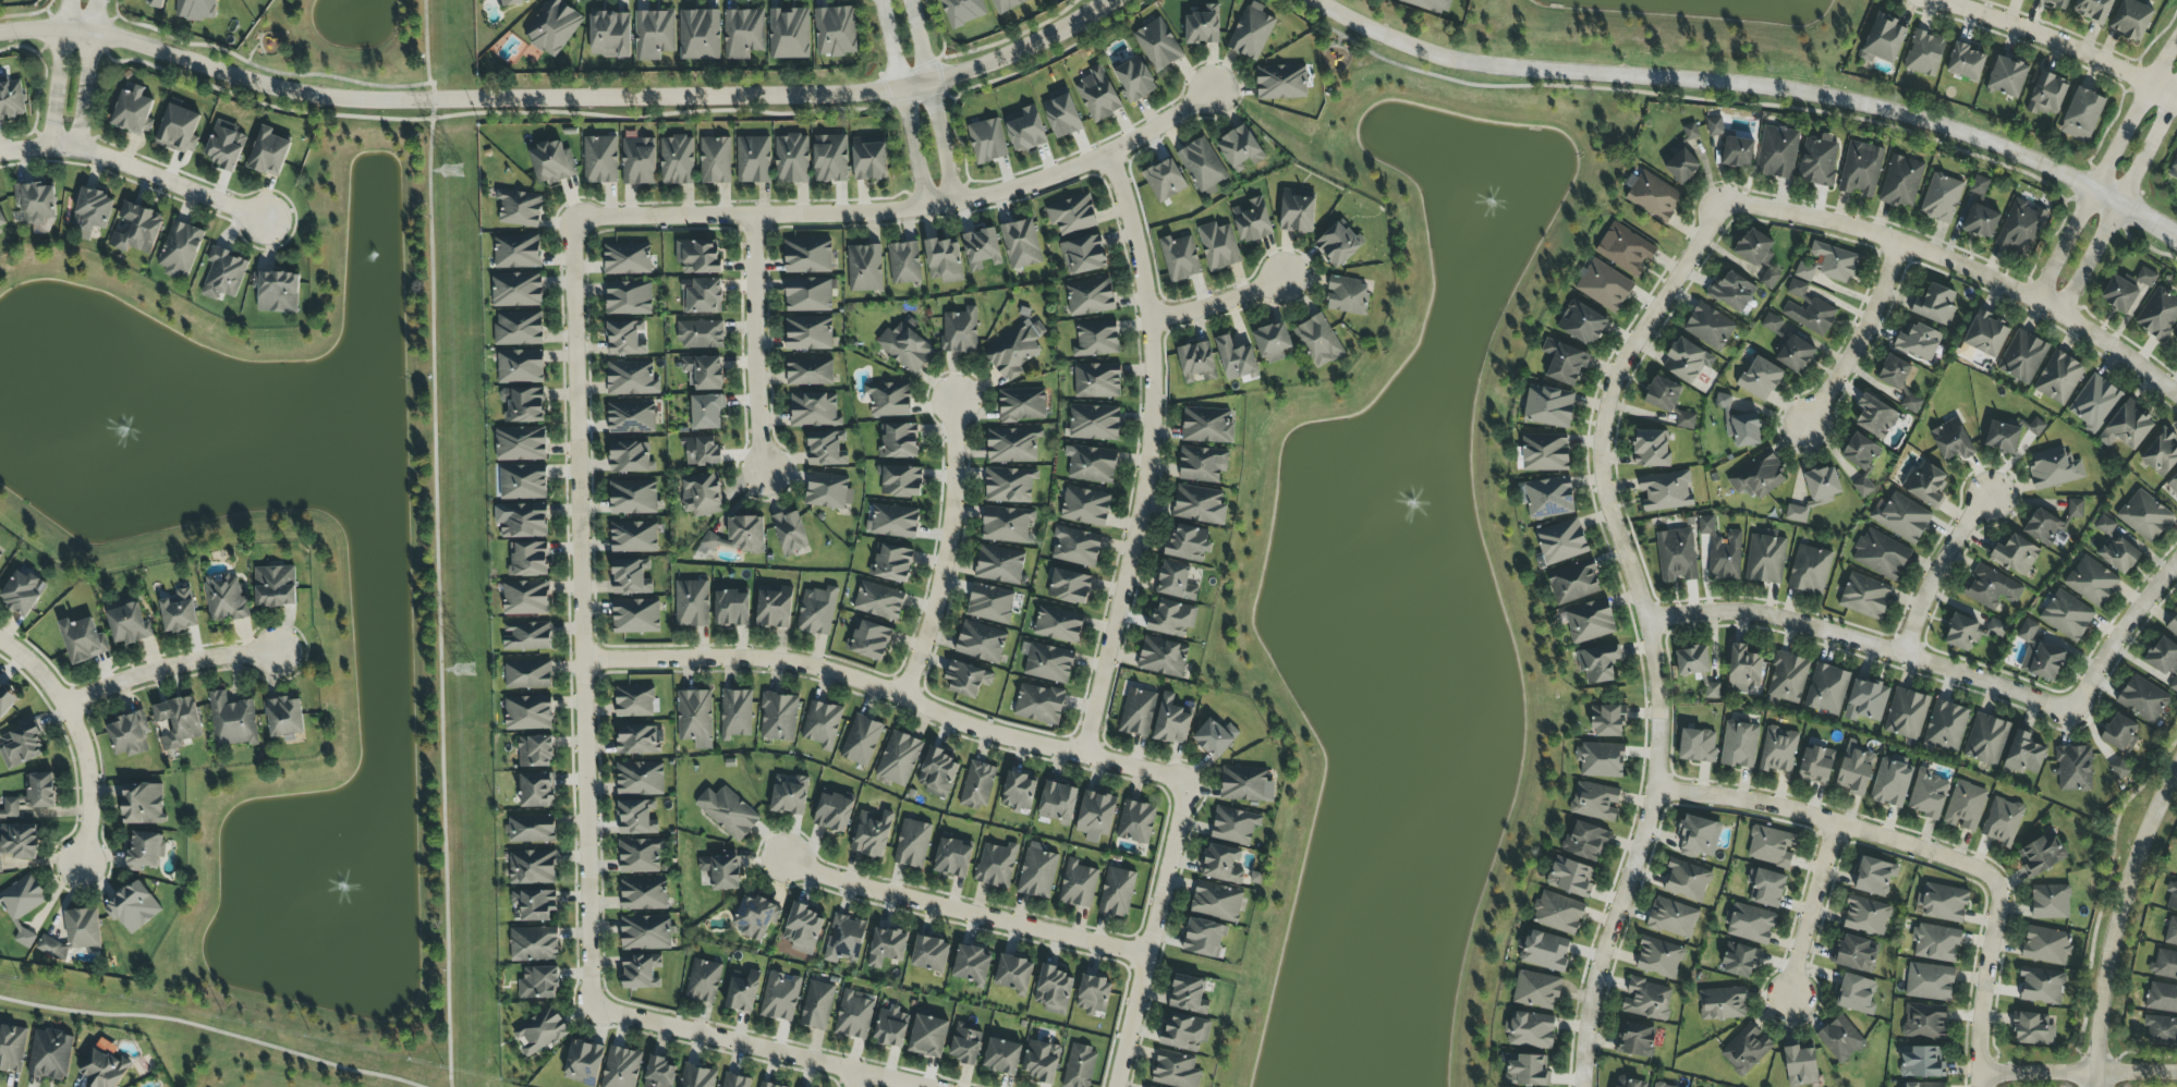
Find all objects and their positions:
building: (511, 2)
building: (2056, 2)
building: (155, 3)
building: (1006, 4)
building: (1431, 4)
building: (196, 9)
building: (2093, 10)
building: (962, 11)
building: (2131, 20)
building: (1203, 26)
building: (552, 27)
building: (835, 32)
building: (1251, 32)
building: (743, 33)
building: (610, 34)
building: (654, 34)
building: (789, 34)
building: (700, 35)
building: (1884, 39)
road: (920, 40)
road: (889, 42)
building: (1157, 45)
road: (2060, 46)
building: (1924, 53)
building: (1965, 62)
road: (60, 72)
road: (86, 73)
building: (2007, 77)
building: (1134, 78)
building: (1281, 82)
road: (1754, 85)
building: (2046, 94)
building: (1098, 95)
road: (558, 98)
building: (11, 99)
building: (133, 111)
building: (1061, 113)
building: (2081, 114)
building: (1715, 126)
building: (179, 129)
building: (1025, 129)
building: (987, 141)
road: (940, 142)
building: (224, 146)
road: (25, 147)
road: (910, 147)
building: (1240, 149)
building: (268, 152)
building: (1737, 152)
building: (1777, 152)
building: (829, 158)
building: (1683, 158)
building: (753, 159)
building: (791, 159)
building: (869, 159)
building: (600, 160)
building: (677, 160)
building: (715, 160)
building: (638, 161)
building: (1819, 161)
building: (551, 162)
building: (2175, 164)
building: (1203, 166)
road: (2105, 168)
building: (1861, 169)
power tower: (451, 172)
road: (158, 178)
building: (1164, 180)
building: (1901, 181)
building: (1979, 185)
building: (1653, 196)
building: (1941, 198)
road: (2119, 201)
building: (36, 206)
building: (520, 208)
road: (902, 208)
fountain: (1486, 210)
building: (1297, 211)
building: (90, 212)
building: (1072, 215)
building: (2, 220)
building: (1252, 220)
building: (1981, 221)
building: (2021, 228)
building: (135, 229)
building: (1020, 244)
building: (1338, 244)
building: (1218, 246)
building: (981, 248)
building: (180, 249)
building: (1625, 249)
building: (516, 251)
road: (1895, 253)
building: (1083, 255)
building: (697, 256)
building: (807, 256)
building: (1758, 256)
building: (1179, 258)
building: (627, 259)
building: (944, 260)
building: (1834, 261)
building: (903, 262)
building: (864, 268)
building: (1804, 272)
building: (223, 274)
building: (2145, 277)
building: (1604, 285)
building: (1797, 289)
building: (516, 290)
building: (1732, 291)
building: (277, 292)
building: (810, 294)
building: (2119, 294)
building: (702, 295)
building: (1090, 296)
building: (1348, 296)
building: (629, 297)
road: (1217, 302)
building: (1935, 305)
road: (2046, 305)
building: (2157, 314)
building: (1811, 316)
building: (1581, 322)
building: (1771, 322)
building: (1708, 327)
building: (519, 328)
building: (959, 331)
building: (808, 333)
building: (701, 334)
building: (1985, 334)
building: (625, 338)
building: (1096, 339)
building: (2175, 340)
building: (1318, 341)
building: (1919, 341)
building: (1273, 342)
road: (754, 344)
building: (905, 346)
building: (1015, 350)
building: (1792, 352)
building: (2022, 356)
building: (1235, 358)
building: (1687, 361)
building: (1196, 363)
building: (1562, 363)
building: (520, 366)
building: (704, 371)
building: (808, 371)
building: (631, 378)
building: (2058, 378)
building: (1760, 379)
building: (1097, 380)
building: (1897, 380)
building: (1662, 393)
building: (889, 399)
building: (2094, 403)
building: (523, 404)
building: (1022, 404)
building: (1548, 406)
building: (814, 410)
building: (706, 412)
building: (1875, 416)
building: (631, 417)
building: (1686, 420)
building: (1094, 423)
building: (1739, 425)
building: (1207, 426)
building: (2036, 427)
building: (2127, 427)
fountain: (124, 431)
building: (2003, 438)
building: (898, 440)
building: (1951, 441)
building: (521, 443)
building: (1012, 445)
building: (826, 449)
building: (1651, 449)
building: (701, 451)
building: (1860, 452)
building: (1545, 453)
building: (2161, 453)
road: (1144, 455)
building: (630, 457)
building: (1091, 464)
building: (1202, 464)
building: (2054, 468)
building: (1758, 476)
building: (900, 481)
building: (523, 483)
building: (2173, 484)
building: (1009, 485)
building: (1823, 485)
building: (1925, 485)
building: (1862, 486)
building: (828, 491)
building: (1666, 491)
building: (701, 494)
building: (633, 497)
building: (1547, 497)
building: (1200, 505)
building: (1085, 506)
building: (2076, 509)
fountain: (1400, 511)
building: (1796, 513)
building: (2144, 516)
building: (1901, 517)
building: (522, 520)
building: (892, 522)
building: (1007, 524)
building: (1705, 525)
building: (2042, 527)
building: (790, 533)
building: (739, 535)
building: (634, 537)
building: (1561, 541)
road: (435, 542)
building: (1188, 543)
building: (1077, 547)
road: (942, 552)
building: (1677, 554)
building: (1881, 554)
building: (0, 555)
building: (2015, 555)
building: (1725, 557)
building: (528, 559)
building: (1765, 559)
building: (891, 563)
building: (999, 564)
building: (1810, 570)
road: (1943, 576)
building: (631, 577)
building: (1176, 581)
building: (1573, 582)
building: (2091, 582)
building: (275, 586)
building: (1070, 587)
building: (1991, 588)
building: (23, 591)
building: (1865, 597)
building: (224, 598)
building: (525, 598)
building: (879, 601)
building: (692, 603)
building: (989, 603)
building: (731, 608)
building: (774, 609)
building: (179, 611)
building: (816, 611)
road: (580, 614)
building: (2067, 615)
building: (636, 616)
building: (1171, 618)
building: (1590, 621)
building: (127, 623)
building: (1058, 625)
building: (2173, 625)
road: (1644, 628)
building: (1996, 628)
building: (1962, 633)
road: (2121, 633)
building: (526, 636)
building: (869, 639)
building: (82, 640)
building: (980, 642)
road: (1859, 644)
building: (2039, 655)
building: (1163, 657)
building: (1692, 661)
building: (2164, 661)
building: (1048, 663)
building: (1597, 663)
road: (166, 668)
building: (1743, 669)
power tower: (463, 671)
building: (528, 674)
building: (1787, 679)
building: (968, 680)
road: (887, 689)
building: (1827, 689)
building: (2142, 699)
building: (5, 700)
building: (1865, 700)
building: (634, 701)
building: (1039, 704)
building: (1138, 712)
building: (527, 713)
building: (735, 713)
building: (1907, 716)
building: (778, 717)
building: (283, 718)
building: (695, 718)
building: (232, 721)
building: (1171, 721)
building: (1609, 721)
building: (177, 722)
building: (822, 724)
building: (1946, 726)
building: (2119, 733)
building: (127, 735)
building: (1215, 737)
road: (74, 740)
building: (638, 740)
building: (1986, 740)
building: (861, 741)
building: (1698, 745)
building: (1739, 745)
building: (21, 746)
building: (1778, 750)
building: (535, 752)
building: (2023, 754)
building: (899, 758)
building: (1601, 760)
building: (1815, 766)
building: (2073, 769)
building: (2119, 769)
building: (1854, 770)
building: (937, 772)
building: (640, 779)
building: (1890, 783)
building: (1243, 784)
building: (977, 785)
building: (39, 791)
building: (535, 791)
building: (1018, 792)
building: (789, 794)
building: (1927, 794)
building: (1594, 801)
building: (1057, 803)
building: (143, 804)
building: (1965, 806)
building: (10, 808)
building: (728, 813)
building: (834, 813)
building: (1095, 816)
building: (637, 817)
building: (1135, 821)
road: (1829, 821)
building: (2002, 821)
building: (1235, 825)
building: (532, 829)
building: (872, 834)
building: (1698, 836)
building: (17, 841)
building: (1584, 841)
building: (912, 844)
building: (1772, 846)
building: (144, 852)
building: (640, 855)
building: (2041, 855)
building: (952, 858)
building: (1223, 864)
building: (996, 865)
building: (532, 867)
building: (721, 870)
building: (1037, 871)
building: (1570, 877)
building: (1874, 877)
building: (1687, 881)
building: (1078, 884)
building: (1765, 888)
fountain: (336, 891)
building: (1116, 892)
building: (644, 894)
building: (2172, 897)
building: (1217, 901)
building: (2051, 902)
building: (1943, 903)
building: (22, 904)
building: (534, 904)
building: (133, 907)
road: (959, 911)
road: (2117, 911)
building: (1558, 913)
road: (1815, 914)
building: (755, 916)
building: (1866, 916)
building: (1673, 918)
building: (1751, 924)
building: (83, 928)
building: (802, 929)
building: (645, 932)
building: (2172, 932)
road: (1147, 935)
building: (1204, 938)
building: (844, 939)
building: (1935, 942)
building: (534, 944)
building: (2046, 945)
building: (886, 946)
building: (52, 949)
building: (1545, 951)
building: (1854, 953)
building: (931, 954)
building: (1659, 958)
building: (1739, 961)
building: (2165, 964)
building: (972, 965)
building: (641, 972)
building: (1013, 974)
building: (703, 981)
building: (1930, 982)
building: (539, 984)
road: (1981, 985)
building: (2041, 986)
building: (1054, 990)
building: (1536, 990)
building: (743, 992)
building: (1093, 994)
building: (1188, 994)
building: (1856, 994)
building: (779, 997)
building: (2162, 998)
building: (1646, 999)
building: (1722, 1003)
building: (817, 1005)
building: (853, 1014)
building: (1924, 1022)
building: (891, 1027)
road: (209, 1029)
building: (2033, 1029)
building: (1530, 1030)
building: (2161, 1030)
building: (539, 1031)
building: (1185, 1031)
building: (927, 1036)
building: (1840, 1039)
building: (1635, 1040)
building: (965, 1045)
building: (12, 1048)
road: (752, 1048)
building: (1746, 1049)
building: (50, 1054)
building: (1001, 1057)
building: (1041, 1061)
building: (583, 1063)
building: (1921, 1063)
building: (1079, 1066)
building: (1800, 1066)
building: (621, 1067)
building: (102, 1068)
building: (1176, 1071)
building: (1527, 1071)
road: (2077, 1072)
building: (659, 1073)
building: (696, 1076)
road: (2094, 1079)
building: (734, 1080)
road: (854, 1080)
building: (1630, 1083)
building: (767, 1085)
building: (1659, 1085)
building: (1922, 1085)

